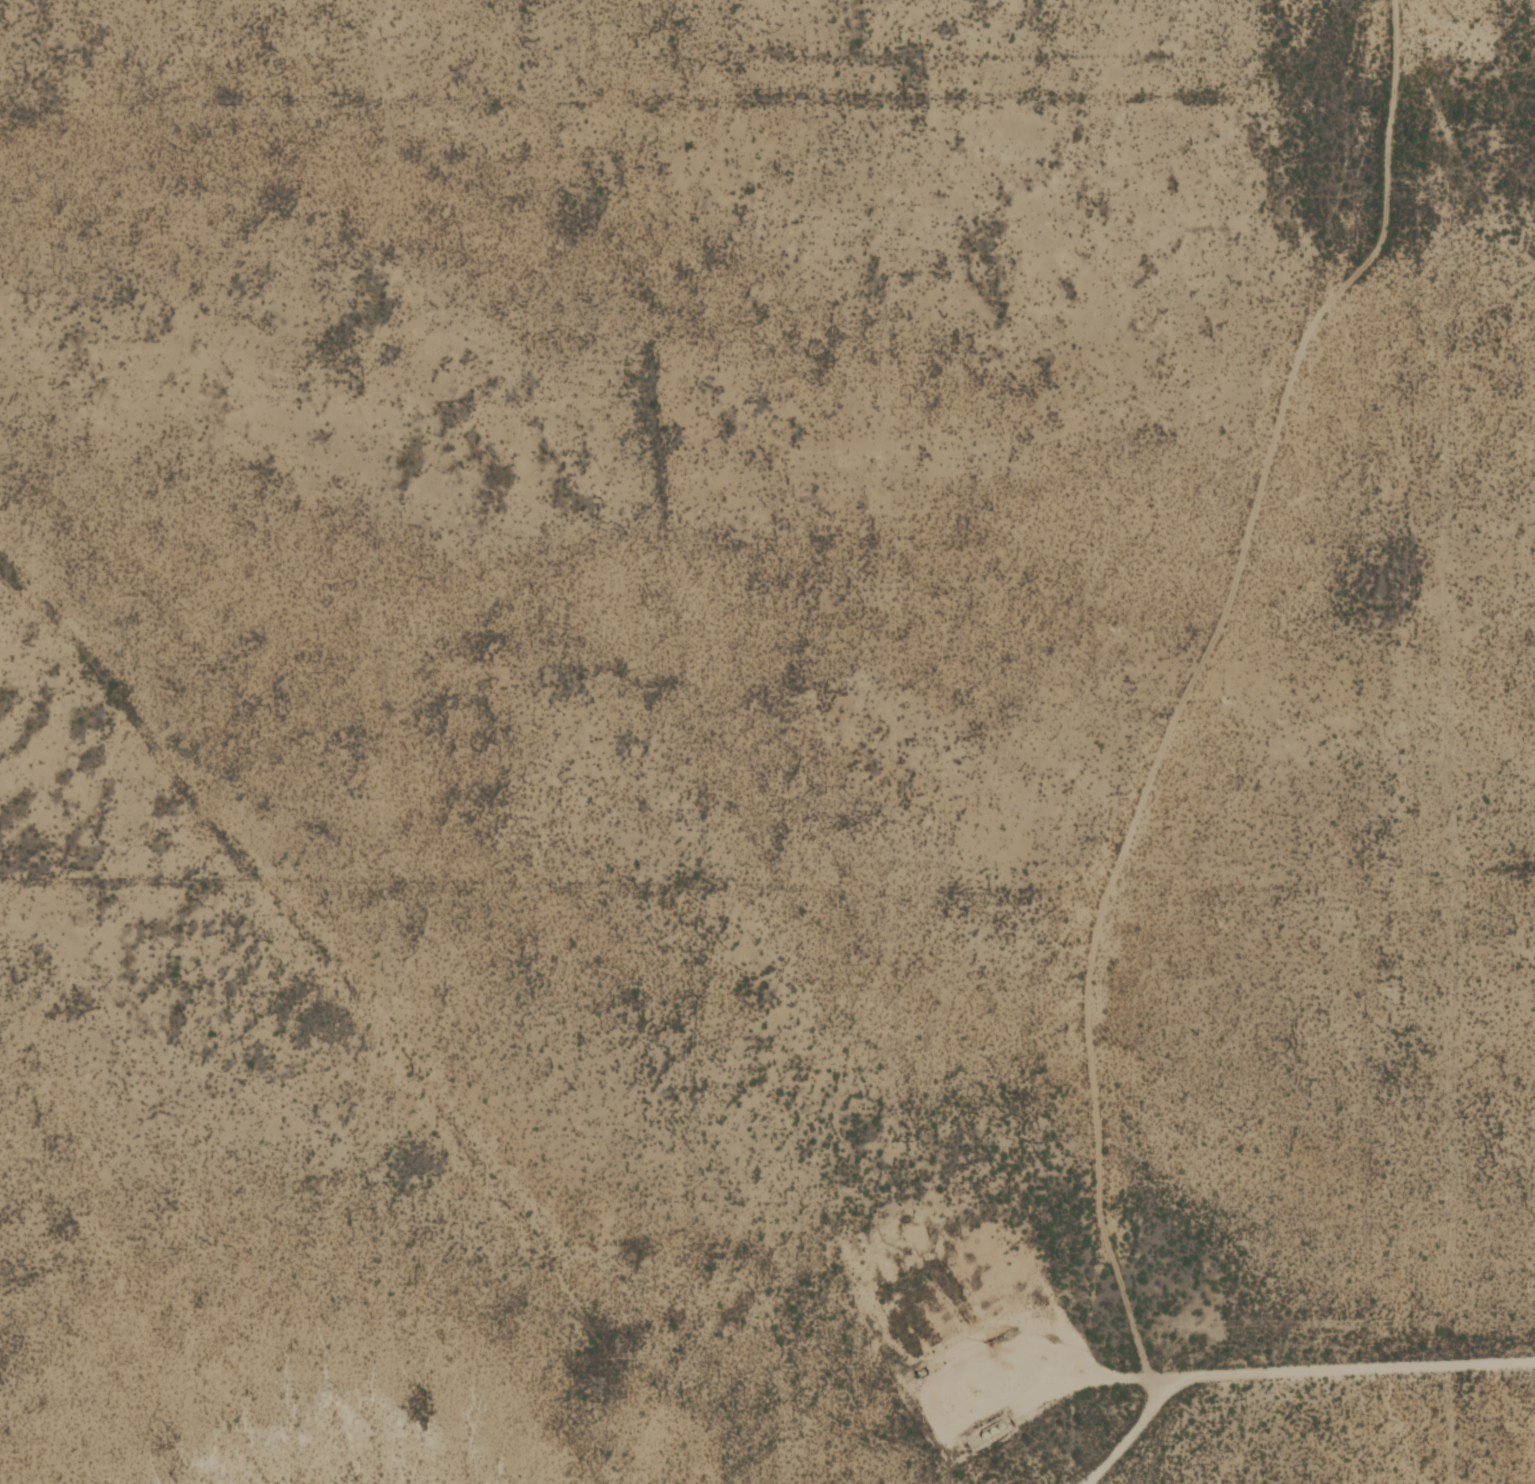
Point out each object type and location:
road: (1284, 1370)

